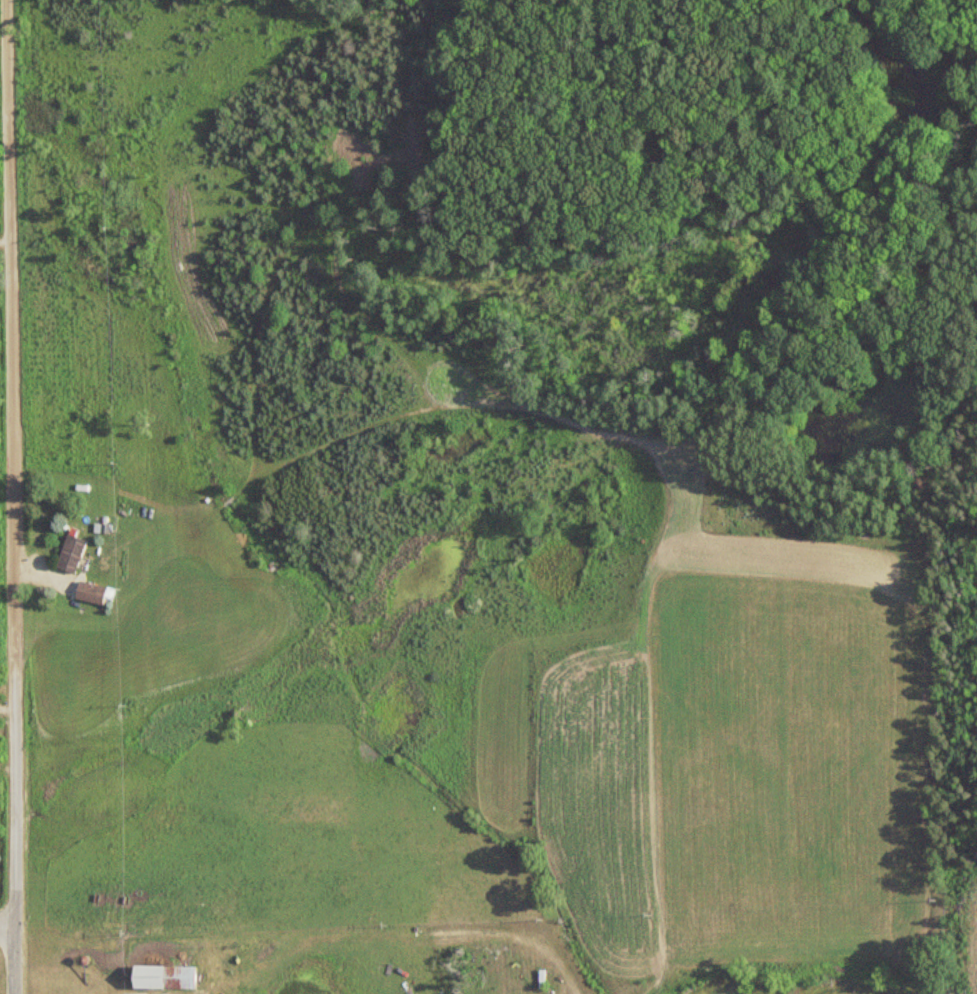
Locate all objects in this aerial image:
road: (8, 352)
building: (67, 554)
building: (88, 593)
road: (12, 849)
road: (6, 924)
building: (160, 976)
road: (133, 993)

